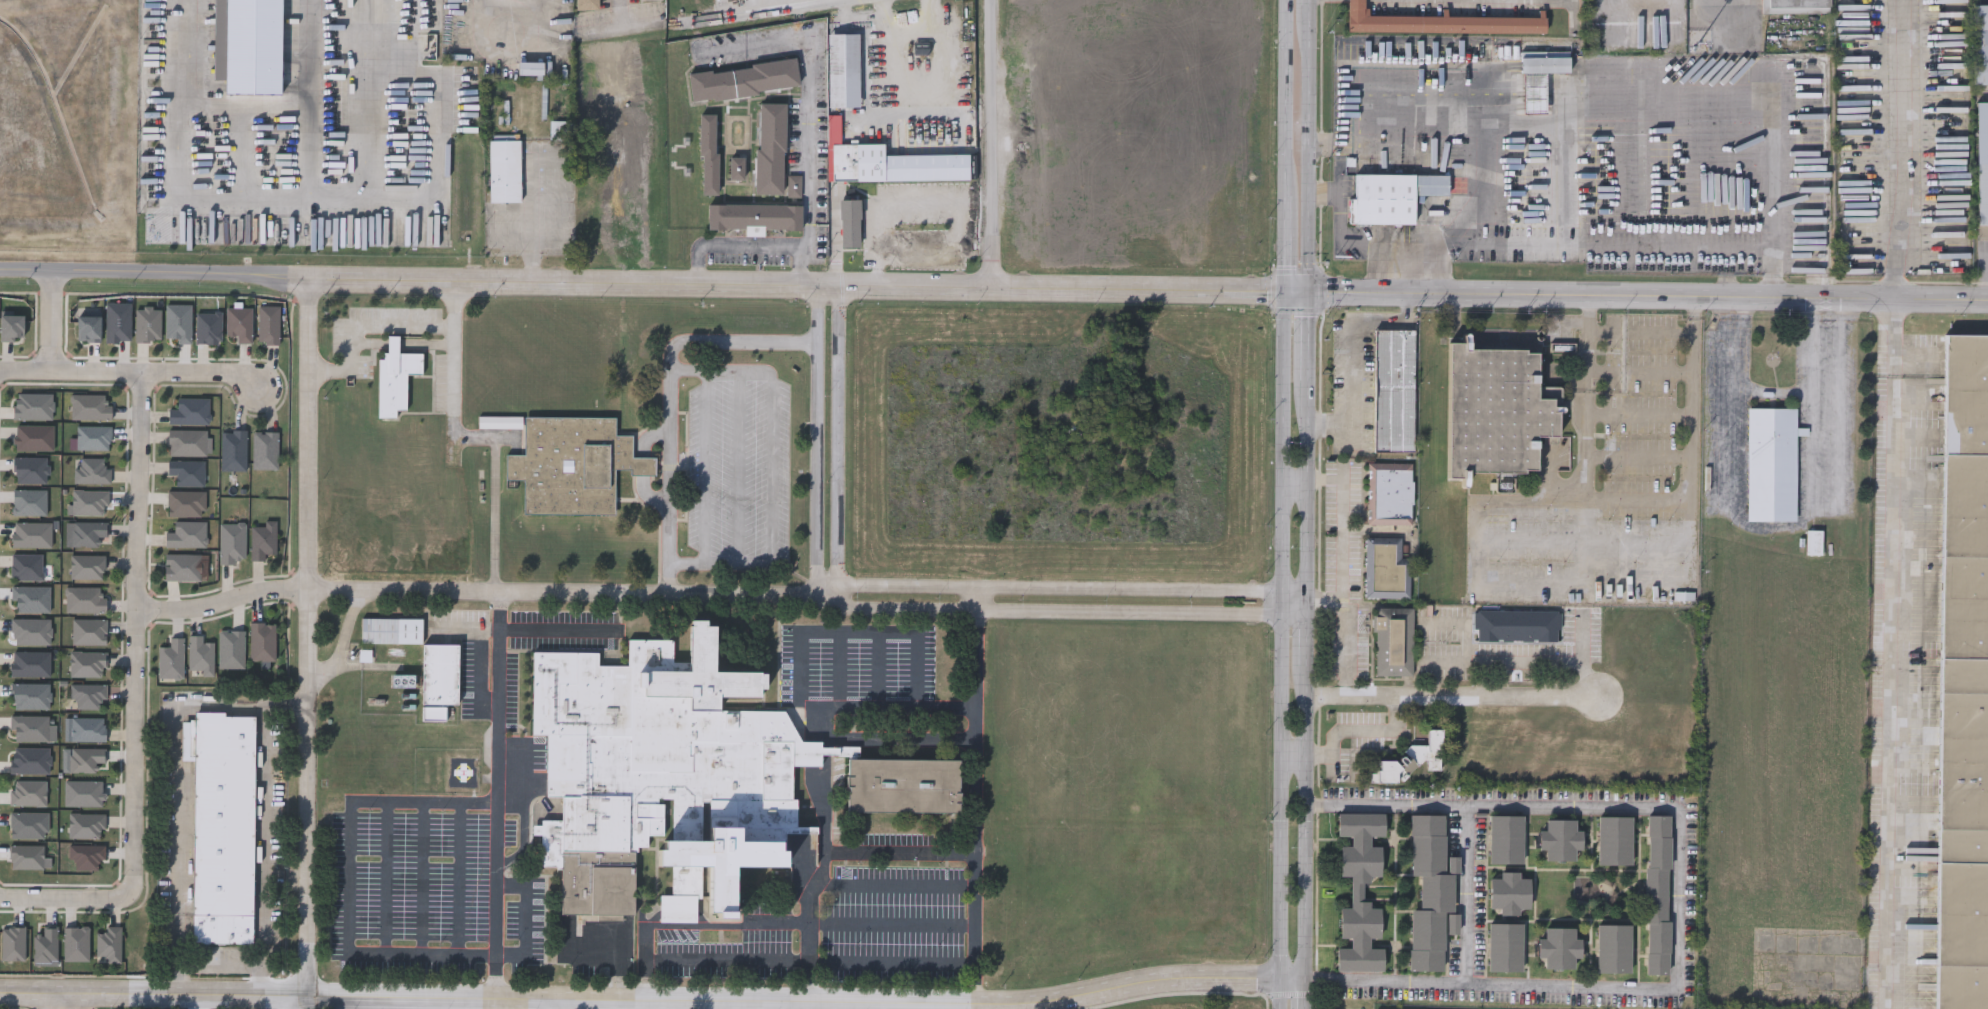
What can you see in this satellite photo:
building: (651, 0)
road: (1727, 2)
building: (587, 4)
building: (1793, 5)
building: (367, 8)
road: (1744, 11)
road: (799, 14)
road: (619, 15)
road: (735, 16)
building: (1439, 21)
road: (751, 41)
building: (1980, 43)
road: (509, 57)
building: (1544, 63)
building: (843, 70)
building: (743, 78)
road: (362, 98)
road: (248, 102)
road: (905, 116)
road: (807, 121)
building: (562, 129)
road: (433, 138)
road: (992, 144)
road: (244, 148)
road: (1898, 148)
building: (771, 149)
road: (1668, 149)
building: (709, 154)
building: (886, 161)
building: (1982, 161)
building: (505, 168)
building: (737, 168)
building: (793, 188)
road: (245, 193)
building: (1391, 196)
road: (899, 206)
road: (531, 217)
building: (754, 217)
building: (850, 221)
road: (1343, 239)
road: (734, 243)
road: (835, 245)
road: (804, 254)
road: (290, 276)
road: (944, 287)
traffic signals: (1286, 288)
traffic signals: (1308, 288)
road: (1648, 293)
road: (53, 322)
building: (238, 324)
building: (267, 325)
road: (384, 326)
road: (1603, 333)
road: (1665, 334)
road: (1352, 355)
road: (454, 369)
road: (134, 373)
building: (395, 377)
building: (1394, 390)
road: (1770, 390)
road: (668, 397)
road: (1838, 399)
road: (1727, 402)
road: (1813, 405)
building: (89, 406)
building: (1497, 410)
building: (189, 411)
building: (500, 422)
road: (310, 433)
road: (815, 440)
road: (837, 440)
building: (186, 442)
road: (1692, 449)
building: (232, 450)
building: (264, 450)
building: (573, 464)
building: (1772, 464)
parking lot: (738, 465)
road: (703, 466)
road: (738, 466)
road: (771, 467)
building: (91, 470)
building: (186, 472)
building: (1390, 494)
road: (1504, 501)
building: (88, 502)
building: (185, 503)
road: (1282, 504)
road: (1307, 504)
road: (1782, 527)
building: (84, 533)
building: (186, 534)
building: (262, 540)
building: (231, 543)
road: (1342, 557)
building: (87, 566)
building: (181, 567)
building: (1387, 568)
road: (1671, 574)
road: (1065, 590)
road: (568, 591)
building: (84, 600)
road: (225, 600)
road: (1064, 611)
building: (1516, 626)
building: (391, 631)
road: (554, 631)
building: (88, 632)
road: (850, 633)
road: (138, 635)
road: (341, 639)
building: (261, 641)
building: (1394, 642)
building: (230, 649)
road: (1893, 653)
road: (1582, 654)
building: (199, 655)
building: (170, 659)
parking lot: (858, 661)
road: (1446, 661)
building: (87, 664)
road: (839, 671)
road: (879, 671)
building: (440, 675)
building: (402, 681)
building: (1964, 681)
road: (1451, 694)
building: (87, 696)
road: (881, 710)
building: (87, 729)
road: (1347, 731)
road: (898, 742)
building: (841, 751)
road: (818, 755)
building: (1410, 758)
building: (81, 759)
helipad: (463, 771)
building: (661, 774)
building: (903, 785)
road: (175, 786)
road: (309, 791)
road: (497, 794)
road: (977, 795)
building: (27, 825)
building: (85, 826)
road: (527, 828)
building: (224, 830)
building: (1505, 841)
building: (1559, 841)
building: (1614, 842)
road: (267, 850)
road: (900, 854)
building: (24, 857)
building: (84, 857)
road: (350, 877)
road: (386, 878)
road: (422, 878)
road: (460, 878)
parking lot: (409, 881)
road: (833, 886)
building: (1359, 894)
building: (1429, 894)
road: (1466, 894)
building: (1509, 894)
building: (1657, 896)
road: (67, 898)
road: (1678, 899)
road: (526, 918)
road: (860, 925)
road: (809, 942)
building: (107, 944)
building: (44, 945)
building: (1505, 949)
building: (1559, 950)
building: (1613, 950)
road: (222, 963)
road: (790, 964)
road: (154, 992)
road: (51, 1000)
road: (73, 1000)
road: (286, 1001)
road: (808, 1001)
road: (559, 1003)
road: (642, 1004)
road: (798, 1005)
road: (838, 1005)
road: (975, 1006)

